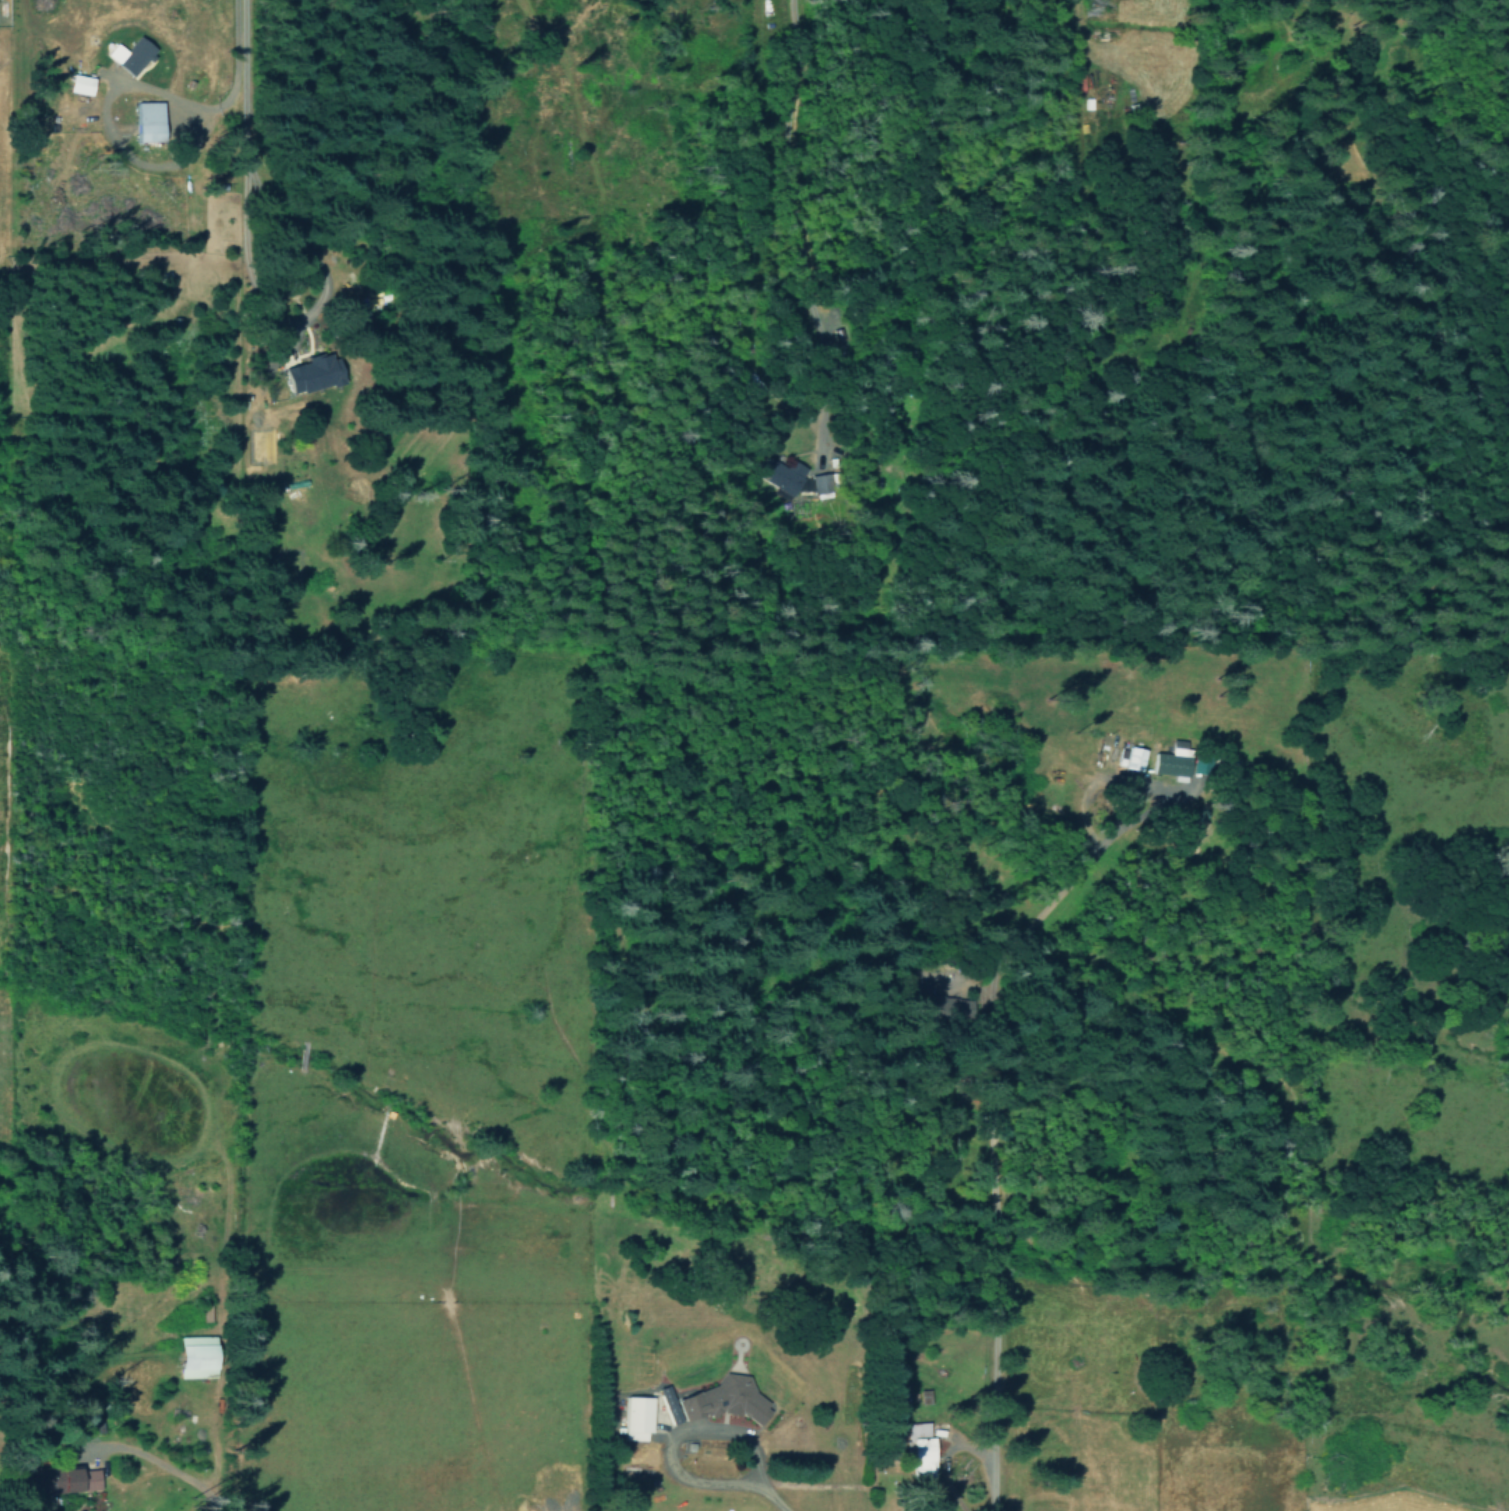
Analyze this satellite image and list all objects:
road: (240, 44)
building: (133, 56)
building: (78, 84)
building: (146, 121)
building: (312, 373)
building: (781, 476)
building: (820, 483)
building: (1132, 757)
building: (1169, 762)
road: (988, 1140)
building: (192, 1356)
building: (716, 1400)
building: (636, 1417)
road: (672, 1436)
building: (919, 1447)
road: (196, 1461)
building: (77, 1479)
road: (771, 1496)

